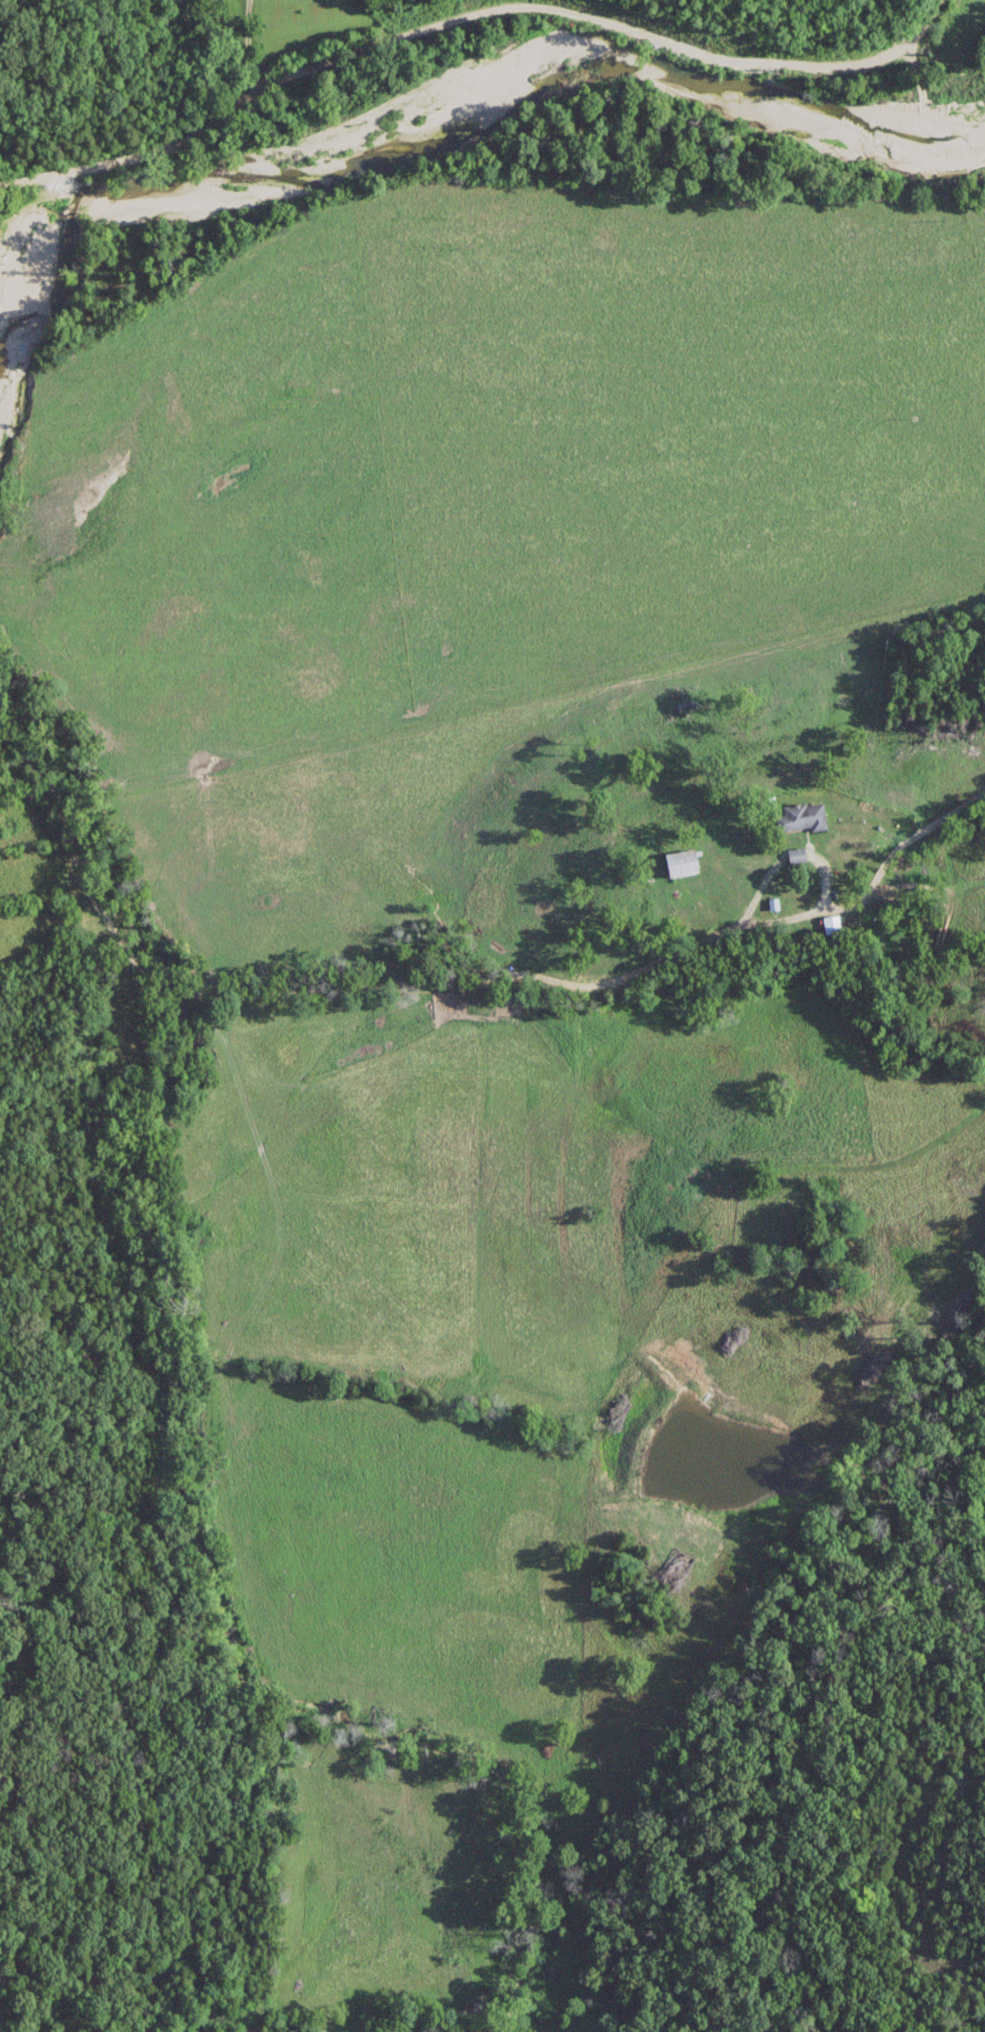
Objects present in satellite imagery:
road: (471, 12)
building: (802, 816)
building: (797, 854)
building: (688, 861)
building: (832, 923)
road: (456, 984)
park: (772, 1210)

